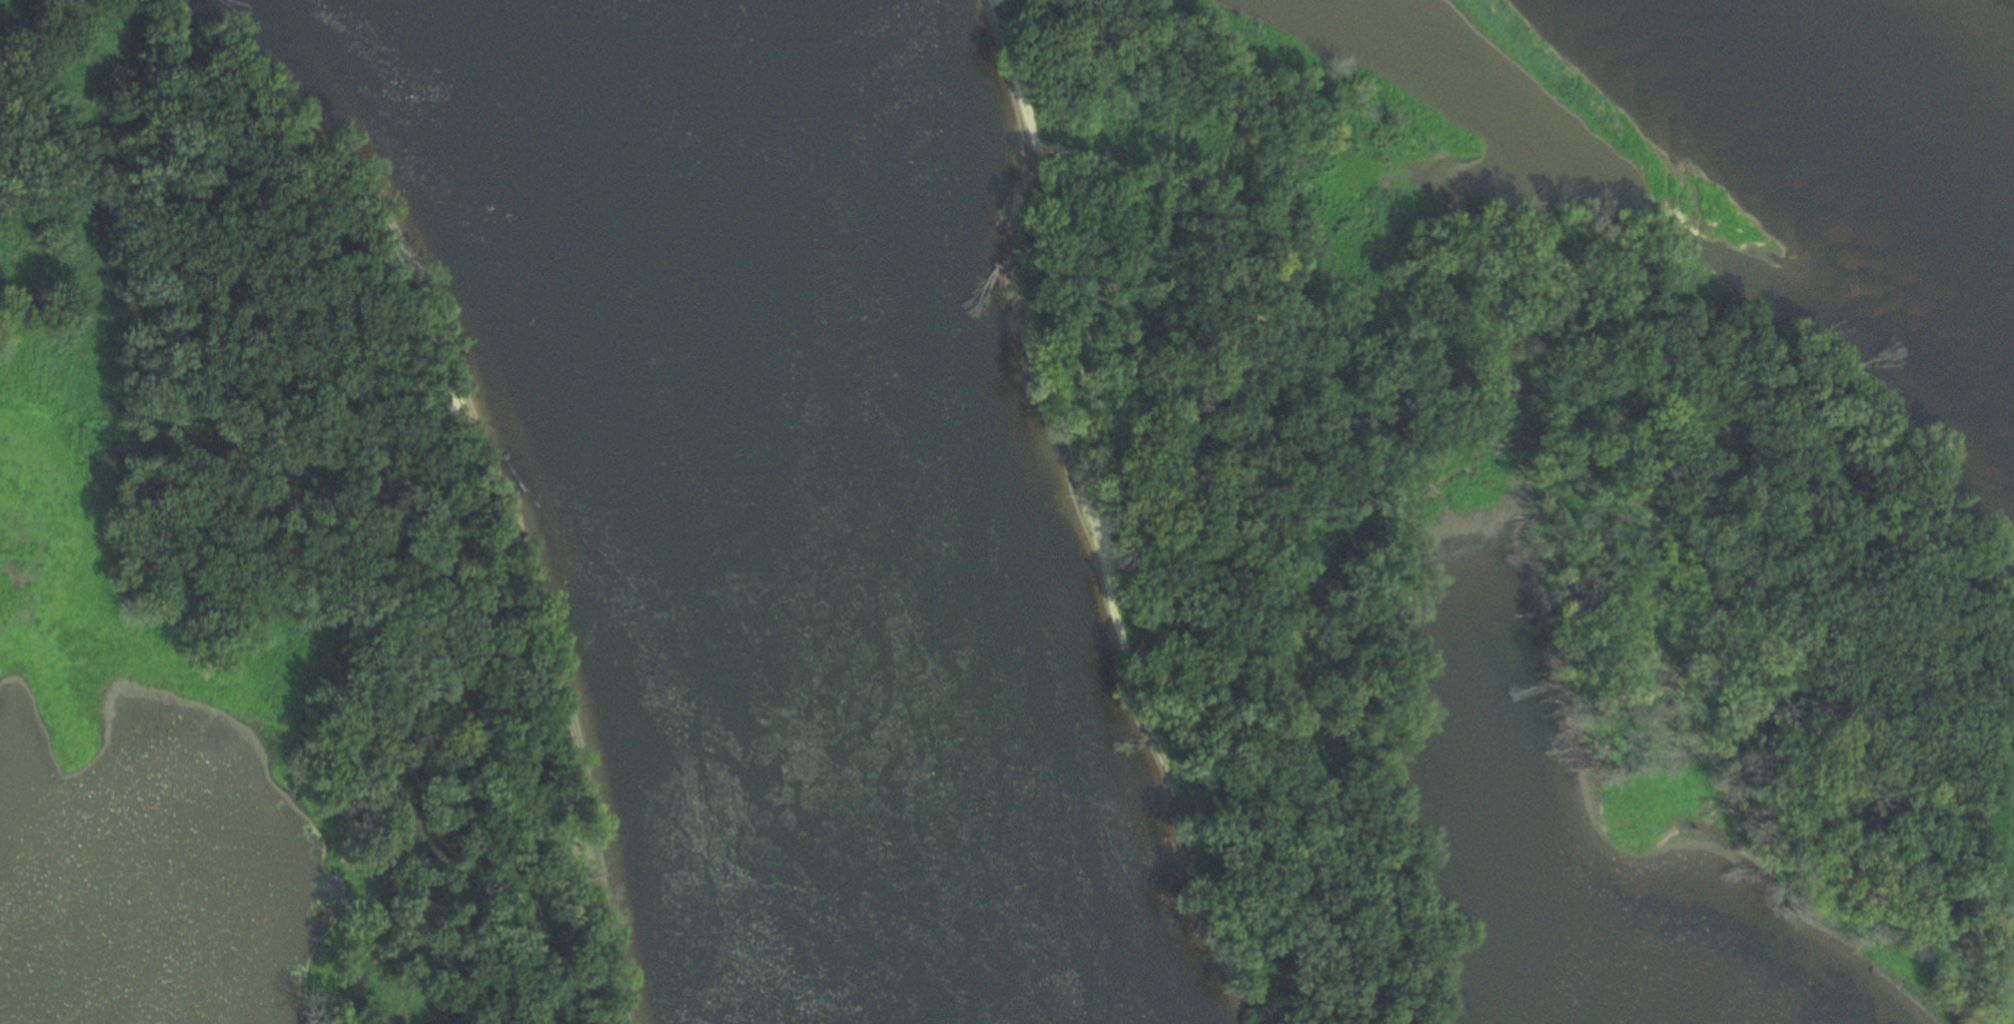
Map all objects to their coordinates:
river: (1875, 152)

